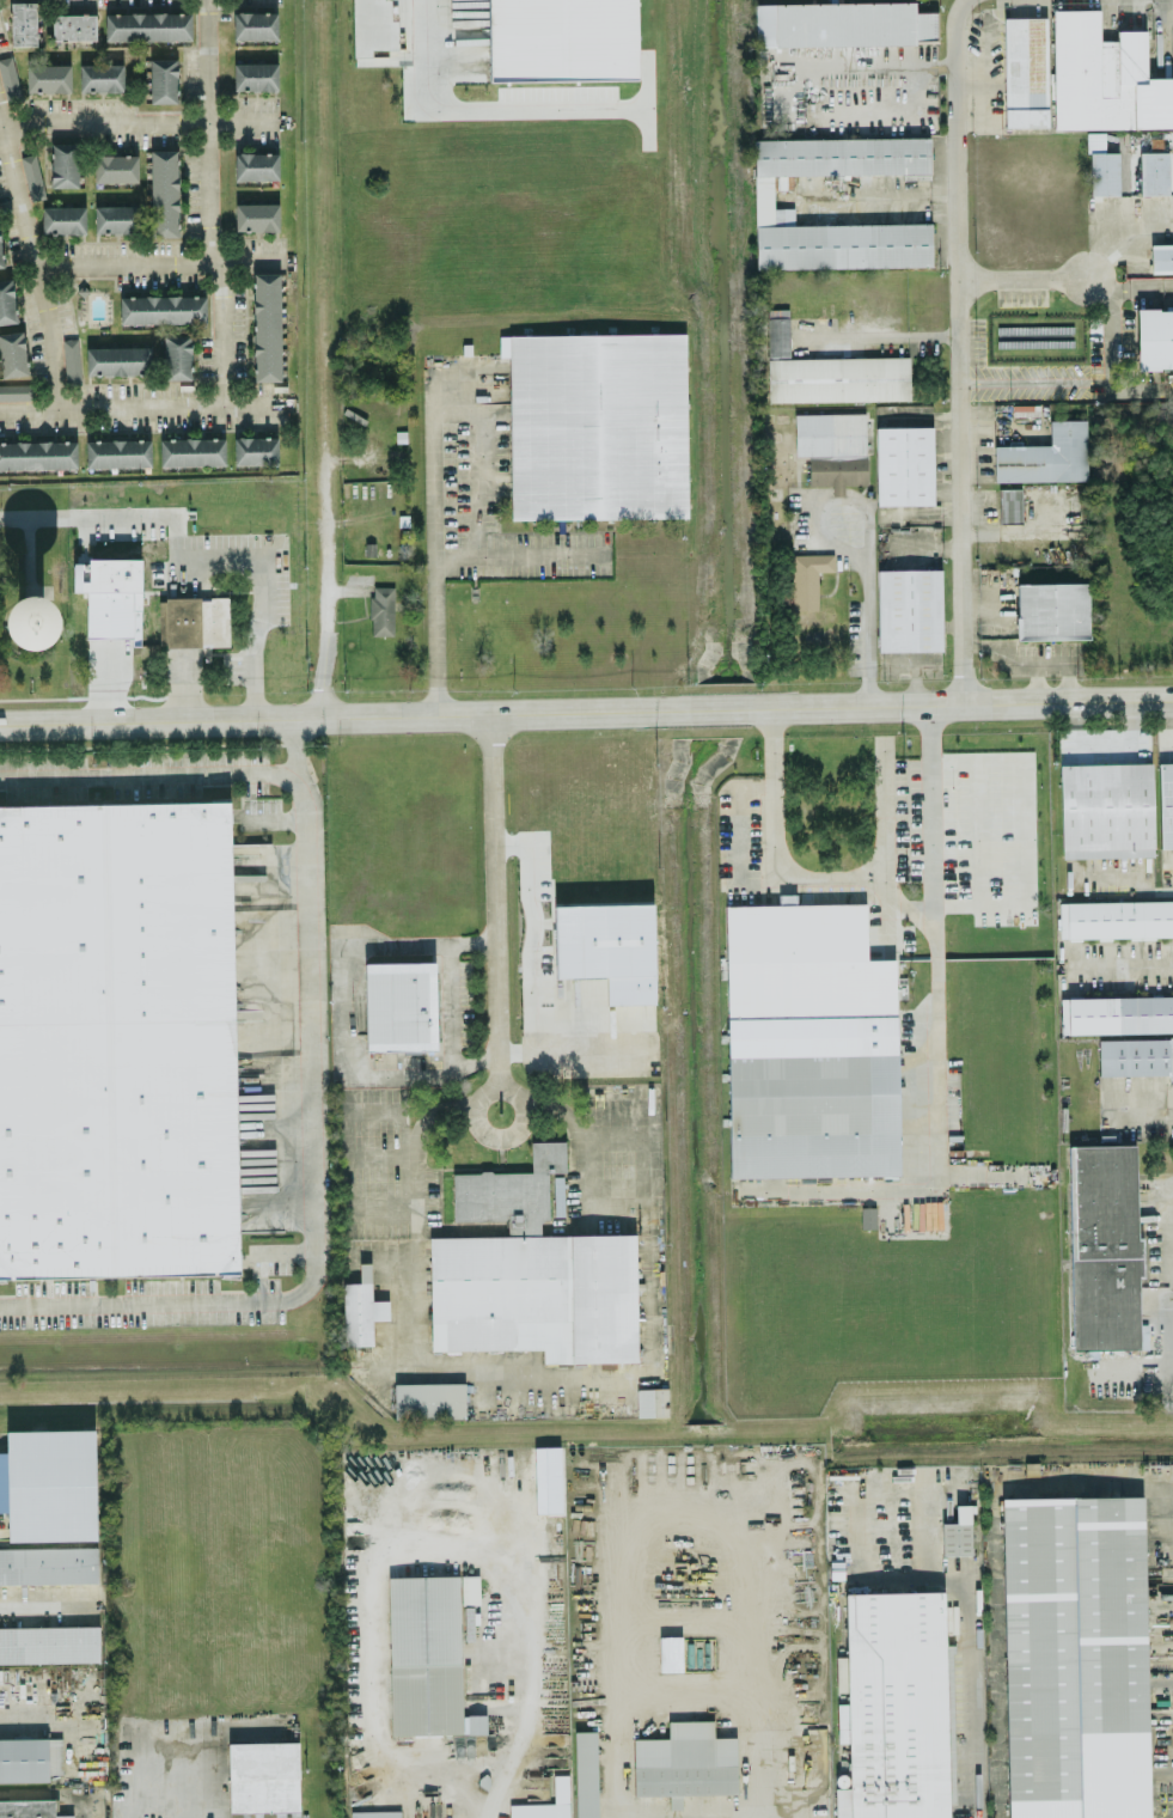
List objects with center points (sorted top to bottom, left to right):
building: (23, 22)
building: (843, 23)
building: (255, 24)
building: (73, 25)
building: (147, 25)
building: (561, 38)
building: (1025, 71)
building: (8, 75)
building: (100, 75)
building: (255, 75)
building: (1104, 75)
building: (48, 77)
building: (163, 79)
road: (478, 108)
road: (138, 121)
road: (207, 130)
building: (63, 164)
building: (256, 165)
building: (1101, 165)
building: (115, 166)
building: (1154, 171)
building: (32, 175)
building: (763, 189)
building: (164, 191)
building: (256, 215)
building: (62, 218)
building: (115, 218)
building: (0, 255)
road: (31, 256)
building: (1161, 256)
road: (155, 262)
road: (1131, 283)
road: (1167, 283)
road: (1030, 285)
building: (7, 300)
building: (163, 307)
building: (265, 325)
road: (1113, 329)
building: (777, 330)
road: (222, 333)
road: (880, 335)
building: (1154, 337)
road: (960, 350)
building: (12, 353)
building: (176, 355)
building: (71, 359)
building: (118, 359)
building: (838, 377)
road: (1038, 379)
road: (1140, 389)
building: (16, 390)
road: (143, 404)
building: (597, 425)
building: (832, 447)
building: (255, 449)
building: (193, 450)
building: (117, 452)
building: (38, 453)
building: (1045, 455)
building: (904, 464)
building: (1009, 504)
road: (32, 514)
road: (444, 535)
road: (328, 572)
building: (808, 576)
building: (112, 600)
building: (909, 608)
building: (381, 609)
building: (1051, 609)
building: (135, 617)
building: (196, 620)
road: (264, 622)
road: (865, 627)
road: (1019, 659)
road: (1035, 682)
road: (1068, 682)
road: (586, 710)
road: (148, 770)
building: (1166, 803)
building: (1106, 809)
road: (833, 877)
road: (1153, 889)
road: (493, 901)
building: (1116, 917)
road: (933, 928)
building: (607, 947)
building: (802, 963)
road: (1124, 963)
road: (450, 999)
building: (399, 1005)
road: (349, 1008)
building: (1116, 1013)
building: (120, 1038)
building: (1136, 1055)
road: (500, 1090)
road: (411, 1115)
building: (811, 1115)
road: (580, 1135)
road: (310, 1153)
road: (415, 1164)
building: (511, 1185)
road: (1166, 1227)
building: (1105, 1245)
building: (365, 1270)
building: (536, 1294)
building: (360, 1312)
building: (429, 1399)
building: (652, 1401)
building: (51, 1484)
building: (552, 1487)
building: (957, 1531)
road: (994, 1563)
building: (48, 1564)
road: (48, 1603)
building: (49, 1645)
building: (430, 1652)
building: (670, 1653)
building: (1075, 1657)
road: (980, 1700)
building: (894, 1706)
road: (56, 1724)
building: (28, 1758)
building: (685, 1761)
road: (122, 1773)
building: (586, 1774)
building: (263, 1779)
road: (51, 1794)
building: (545, 1802)
building: (26, 1810)
building: (375, 1813)

